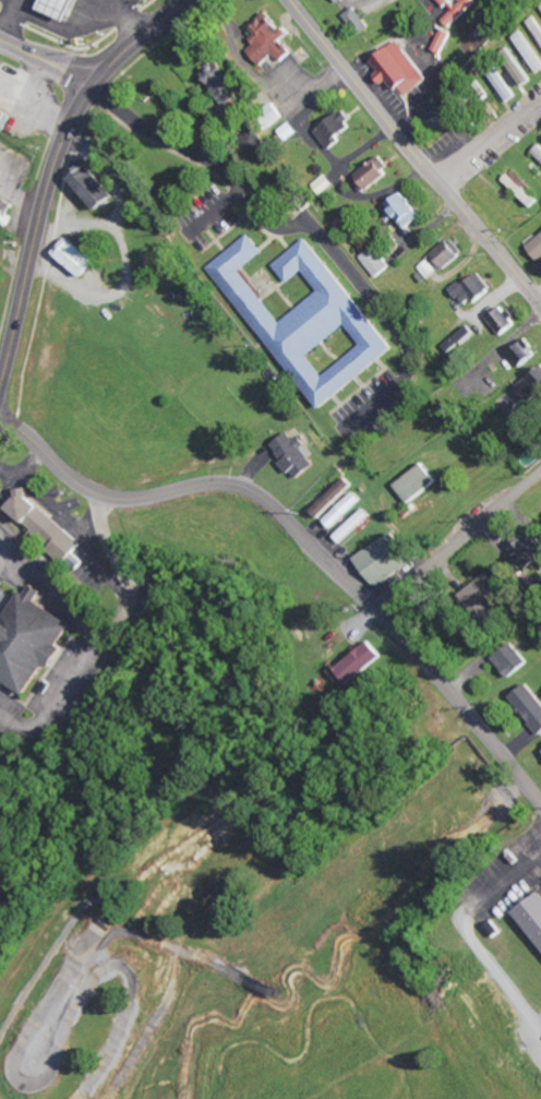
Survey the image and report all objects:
building: (336, 0)
building: (540, 8)
building: (457, 9)
building: (52, 10)
building: (357, 21)
building: (537, 26)
road: (143, 40)
building: (270, 40)
building: (442, 40)
building: (528, 51)
road: (47, 63)
building: (401, 70)
building: (518, 75)
building: (500, 82)
building: (274, 115)
building: (5, 118)
building: (337, 129)
building: (289, 131)
building: (255, 141)
road: (491, 141)
road: (413, 153)
building: (538, 153)
building: (374, 175)
building: (93, 188)
building: (521, 188)
building: (4, 210)
building: (407, 211)
road: (36, 231)
building: (537, 248)
building: (74, 258)
building: (441, 260)
building: (377, 261)
building: (472, 289)
road: (539, 298)
building: (503, 321)
building: (310, 322)
building: (459, 341)
building: (525, 353)
building: (531, 386)
building: (296, 455)
building: (416, 482)
building: (334, 498)
building: (346, 511)
building: (354, 526)
building: (47, 528)
road: (304, 536)
road: (459, 542)
building: (530, 550)
building: (386, 559)
building: (485, 589)
building: (29, 642)
building: (512, 660)
building: (361, 664)
building: (530, 705)
building: (532, 916)

